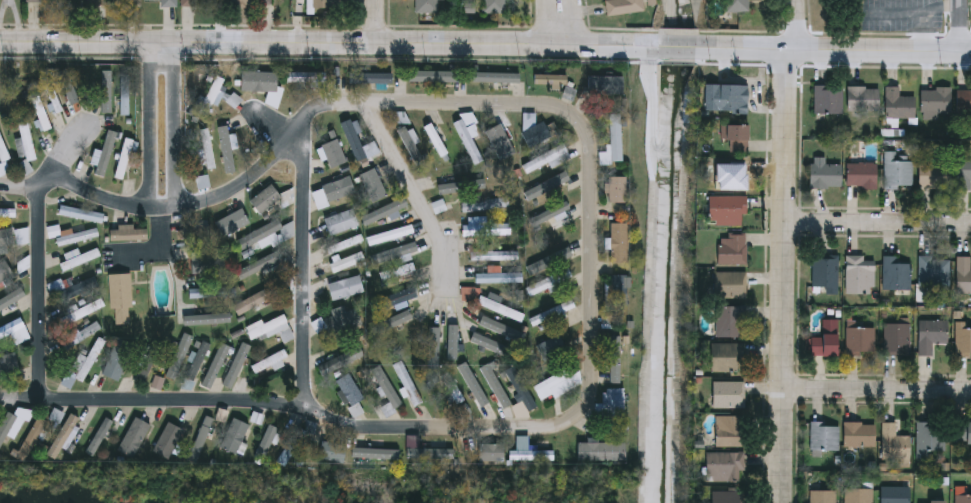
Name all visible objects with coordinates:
building: (42, 0)
building: (95, 2)
building: (124, 2)
building: (264, 2)
building: (168, 3)
building: (196, 3)
building: (237, 3)
building: (327, 4)
building: (736, 5)
building: (426, 6)
building: (492, 6)
building: (623, 6)
road: (374, 22)
road: (562, 22)
road: (798, 25)
road: (962, 26)
road: (329, 44)
road: (685, 48)
road: (841, 50)
building: (304, 77)
building: (484, 77)
building: (432, 78)
building: (373, 79)
building: (549, 79)
building: (258, 81)
building: (603, 84)
building: (67, 88)
building: (123, 94)
building: (209, 96)
building: (726, 97)
building: (862, 98)
building: (827, 99)
building: (934, 100)
building: (963, 101)
building: (897, 103)
building: (50, 106)
building: (40, 113)
road: (172, 123)
road: (145, 124)
road: (297, 128)
building: (534, 134)
building: (613, 138)
building: (731, 138)
building: (498, 141)
building: (24, 142)
building: (466, 142)
building: (408, 145)
building: (225, 146)
building: (204, 148)
building: (356, 151)
building: (104, 152)
building: (331, 153)
road: (70, 154)
building: (3, 158)
building: (124, 158)
building: (545, 159)
building: (897, 171)
building: (861, 174)
building: (963, 174)
building: (731, 175)
building: (825, 175)
building: (933, 175)
building: (201, 181)
road: (43, 184)
building: (370, 184)
building: (542, 187)
building: (336, 189)
building: (615, 189)
road: (19, 192)
road: (419, 196)
building: (263, 198)
building: (481, 201)
building: (728, 210)
building: (7, 212)
building: (80, 213)
building: (382, 215)
building: (549, 215)
road: (877, 220)
building: (338, 221)
building: (228, 222)
building: (484, 228)
building: (127, 232)
building: (189, 232)
building: (69, 234)
building: (265, 234)
building: (21, 235)
road: (154, 235)
building: (6, 237)
building: (617, 241)
building: (392, 245)
building: (732, 249)
building: (547, 251)
building: (493, 254)
building: (340, 256)
building: (80, 258)
building: (205, 262)
road: (594, 263)
building: (23, 264)
road: (303, 264)
building: (255, 268)
building: (825, 270)
building: (934, 270)
building: (3, 271)
building: (395, 271)
building: (896, 273)
building: (859, 275)
building: (962, 275)
road: (782, 276)
building: (498, 277)
building: (547, 281)
building: (731, 284)
building: (55, 285)
building: (343, 287)
building: (617, 289)
building: (210, 292)
road: (40, 297)
building: (119, 298)
building: (393, 298)
building: (252, 299)
building: (4, 302)
building: (489, 303)
building: (552, 311)
building: (210, 318)
building: (341, 320)
building: (730, 321)
building: (10, 326)
building: (87, 328)
building: (268, 328)
building: (487, 331)
building: (394, 334)
building: (932, 334)
building: (827, 339)
building: (898, 339)
building: (862, 340)
building: (963, 341)
building: (432, 345)
building: (550, 348)
building: (614, 349)
building: (726, 356)
building: (344, 357)
building: (116, 358)
building: (85, 361)
building: (147, 361)
building: (269, 362)
building: (6, 363)
building: (207, 363)
building: (231, 366)
building: (556, 384)
building: (385, 386)
building: (414, 387)
building: (450, 388)
building: (483, 388)
building: (519, 388)
building: (348, 391)
road: (876, 391)
building: (729, 394)
building: (610, 402)
road: (292, 406)
building: (4, 426)
building: (730, 431)
building: (963, 432)
building: (62, 435)
building: (200, 435)
building: (232, 435)
building: (824, 435)
building: (859, 435)
building: (132, 436)
building: (99, 437)
building: (29, 438)
building: (930, 438)
building: (166, 440)
building: (264, 442)
building: (893, 443)
building: (289, 447)
building: (376, 450)
building: (438, 450)
building: (330, 451)
building: (599, 451)
building: (490, 452)
building: (545, 452)
building: (724, 466)
building: (894, 494)
building: (858, 495)
building: (727, 496)
building: (822, 496)
building: (963, 499)
building: (931, 502)

